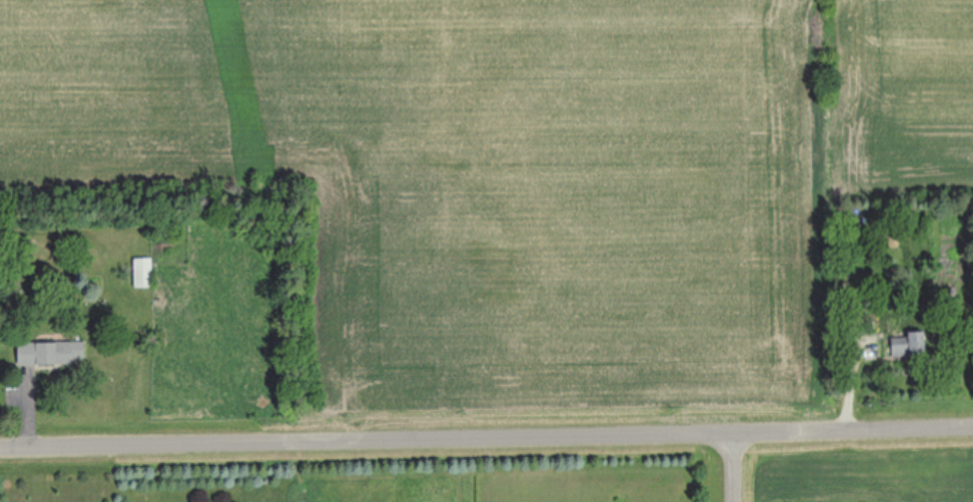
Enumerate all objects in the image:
crop: (515, 181)
building: (145, 273)
building: (912, 345)
building: (54, 354)
road: (854, 373)
road: (486, 440)
road: (738, 466)

